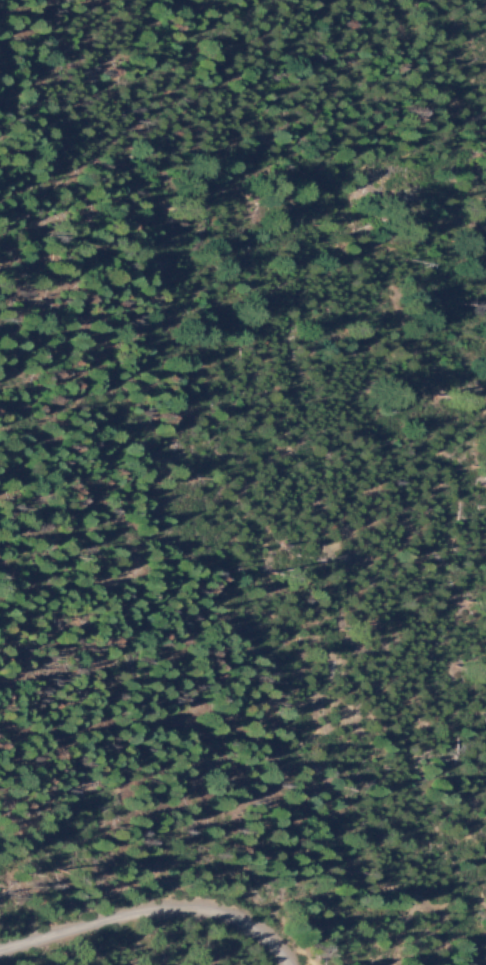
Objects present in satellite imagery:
road: (149, 925)

